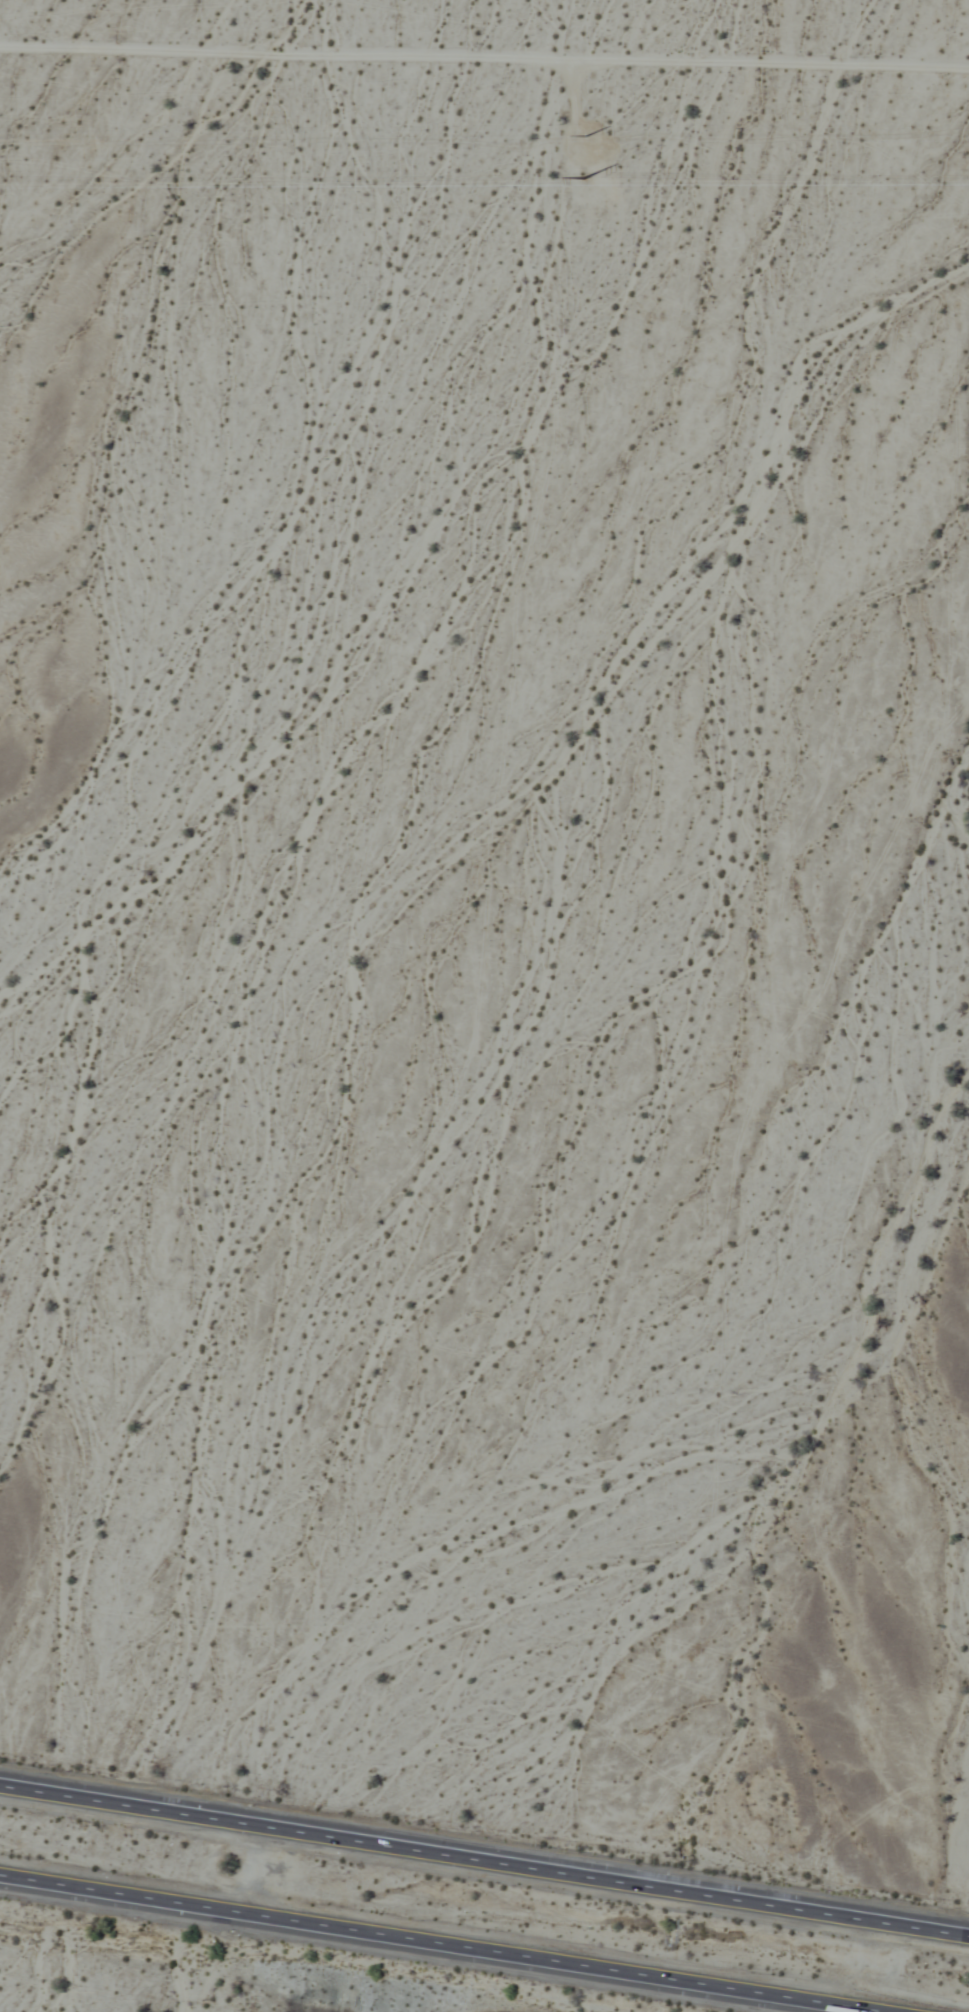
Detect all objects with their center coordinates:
road: (484, 1856)
road: (422, 1946)

